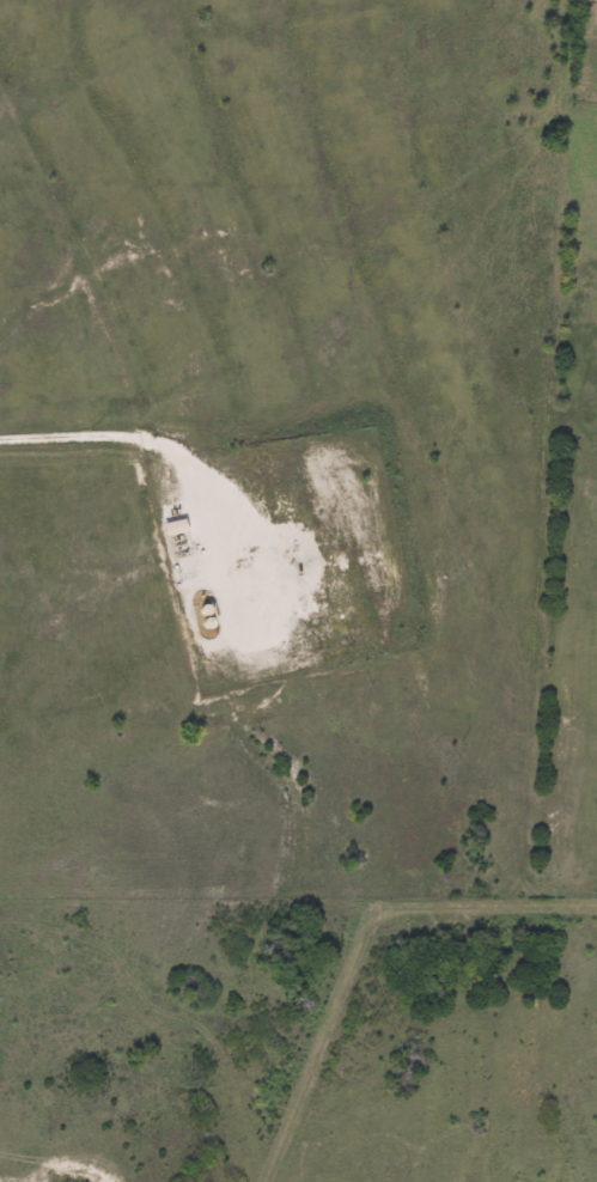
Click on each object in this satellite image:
road: (71, 433)

